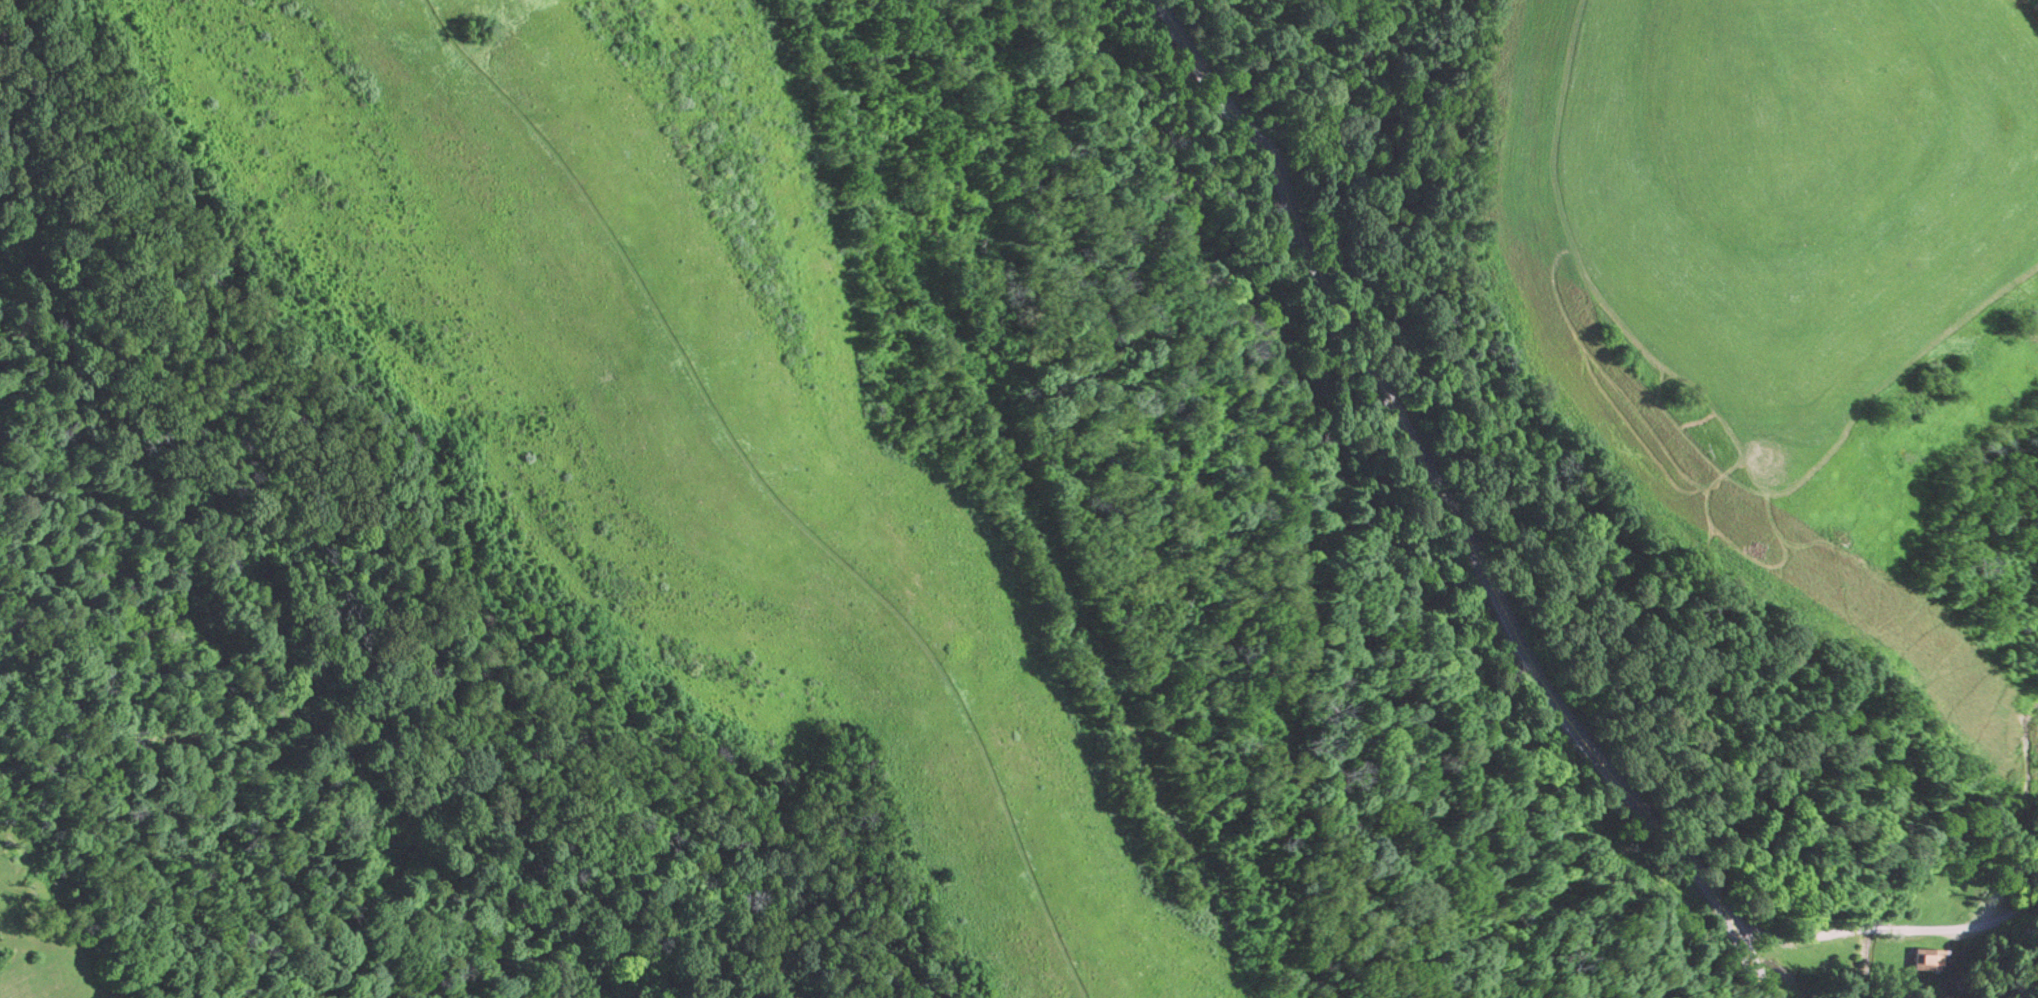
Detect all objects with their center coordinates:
road: (1446, 513)
road: (1887, 925)
building: (1932, 959)

